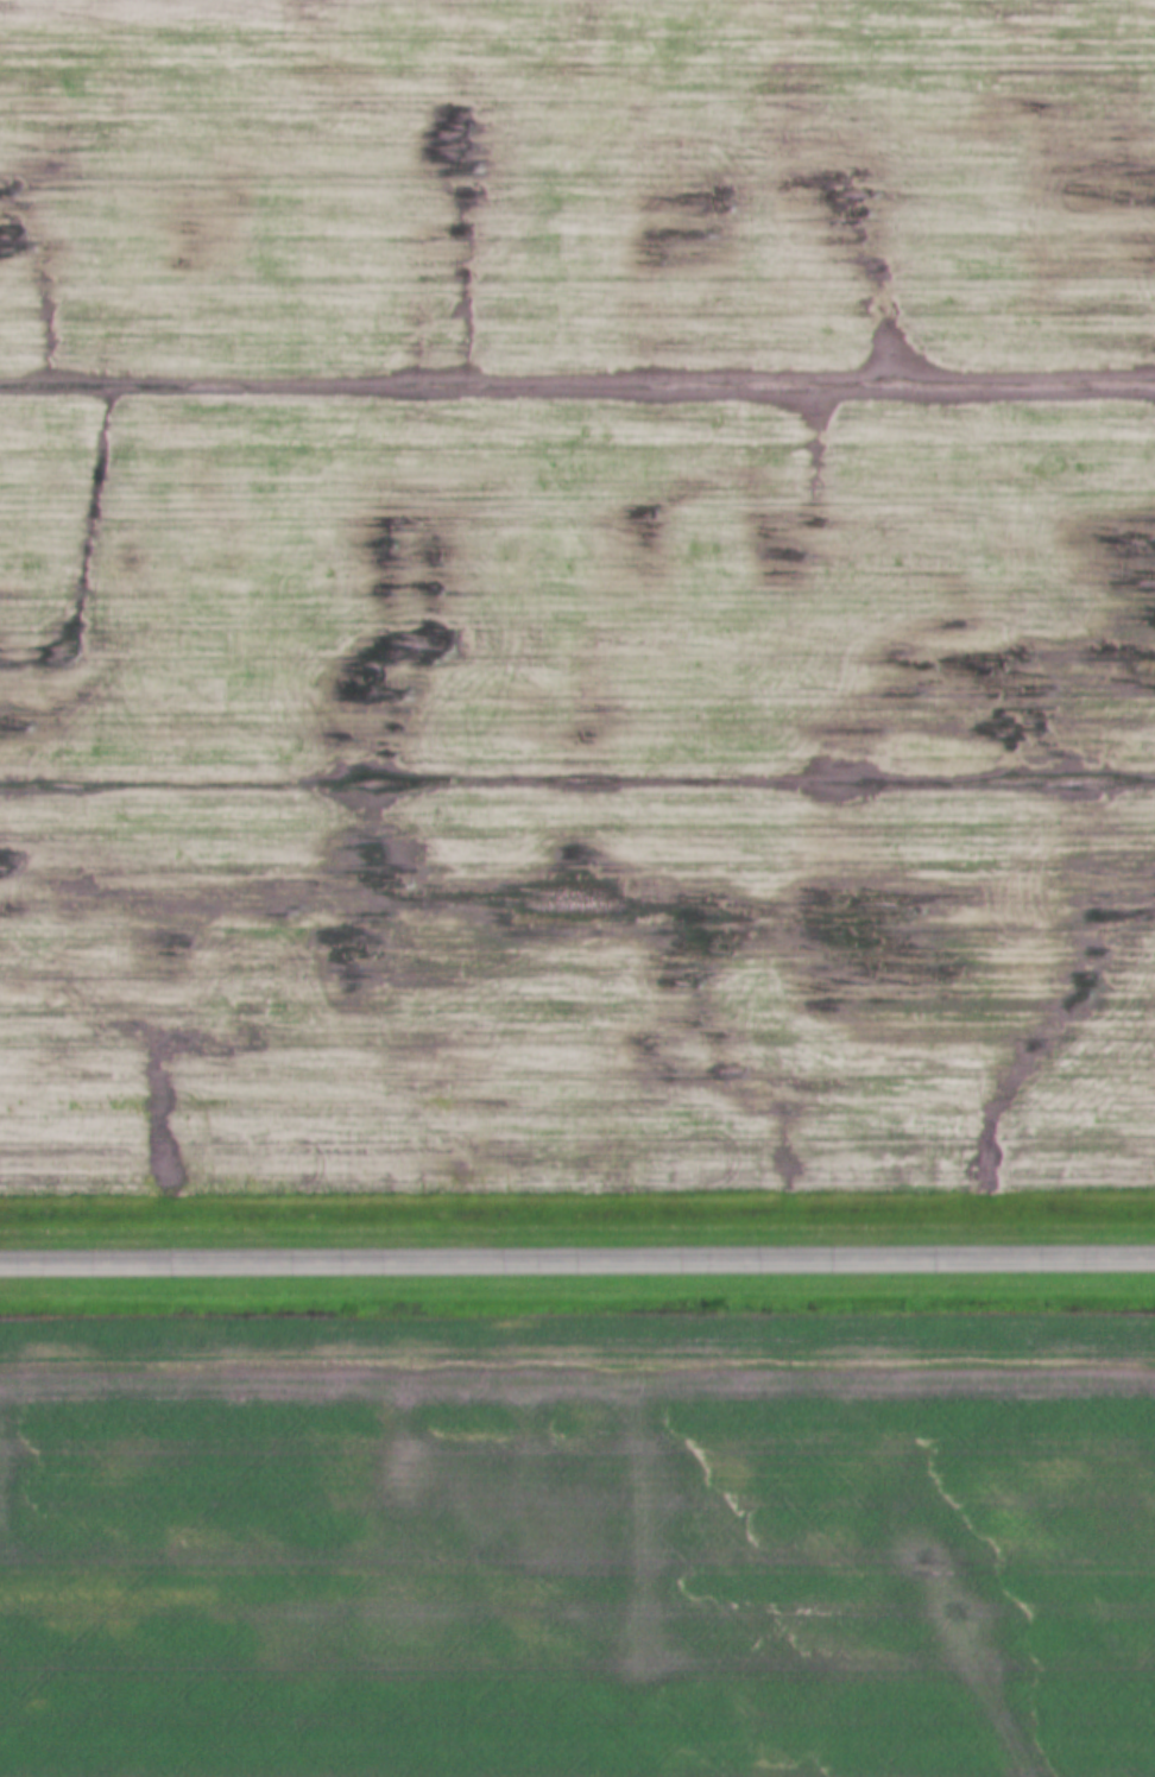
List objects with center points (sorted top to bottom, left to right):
road: (577, 1270)
crop: (579, 1548)

